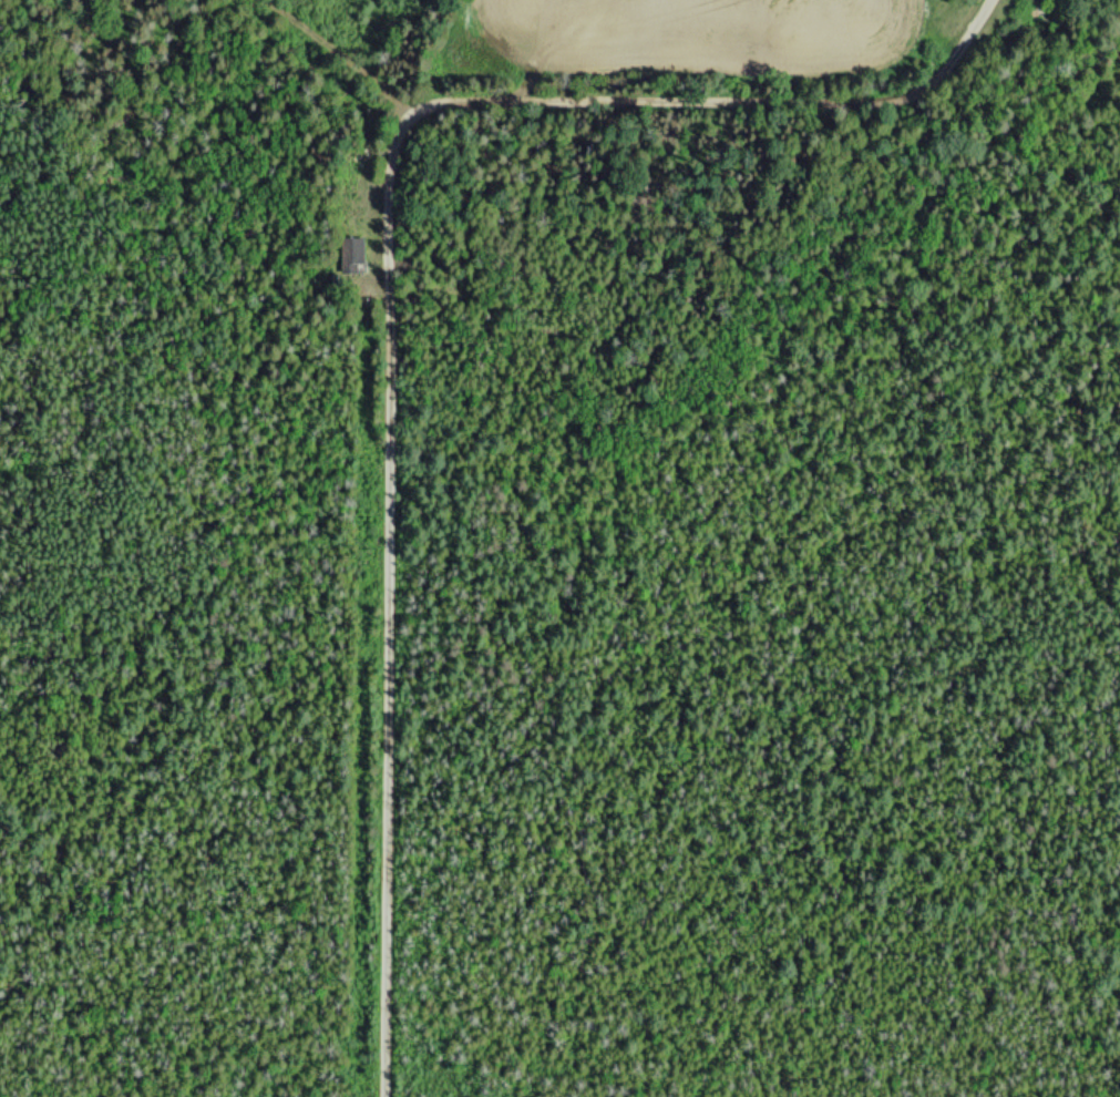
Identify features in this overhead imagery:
road: (327, 44)
road: (717, 99)
building: (353, 255)
road: (393, 597)

